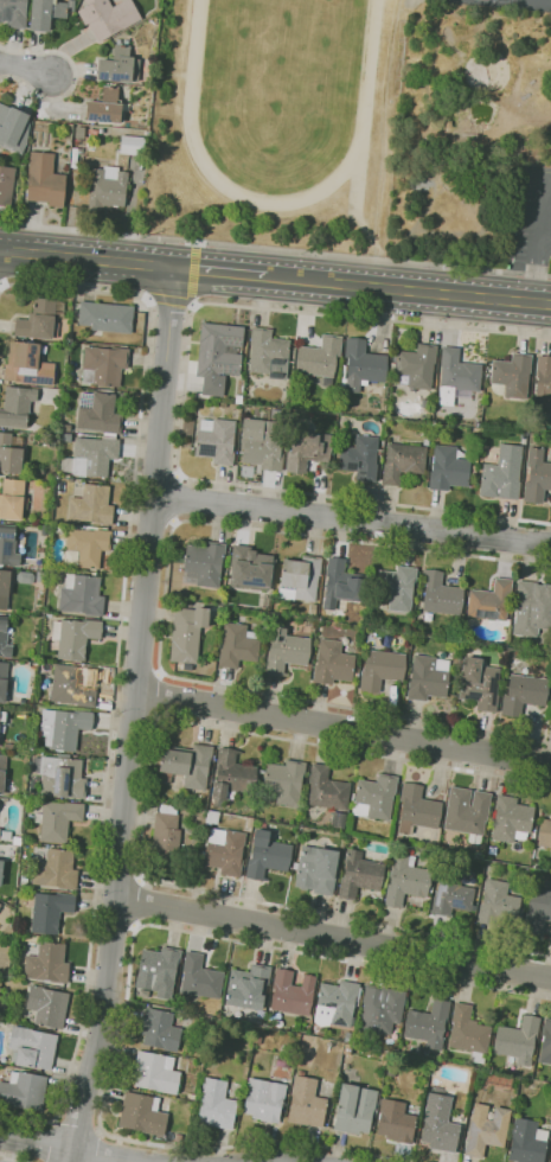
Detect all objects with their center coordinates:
park: (504, 0)
building: (13, 13)
building: (47, 13)
building: (108, 17)
building: (118, 65)
road: (26, 66)
road: (75, 78)
building: (107, 107)
track: (364, 109)
building: (13, 128)
building: (69, 133)
building: (132, 145)
building: (44, 180)
building: (6, 185)
building: (107, 187)
road: (544, 209)
parking lot: (531, 216)
road: (275, 249)
road: (85, 258)
road: (534, 267)
road: (212, 270)
road: (194, 274)
road: (1, 285)
road: (403, 289)
road: (172, 302)
building: (105, 317)
building: (37, 321)
building: (269, 353)
building: (218, 356)
building: (319, 358)
building: (26, 364)
building: (103, 365)
building: (363, 365)
building: (416, 365)
building: (511, 376)
building: (456, 377)
building: (543, 383)
road: (184, 397)
building: (238, 398)
building: (17, 407)
building: (98, 414)
building: (423, 419)
building: (66, 436)
building: (216, 441)
building: (262, 442)
building: (307, 449)
building: (9, 453)
building: (91, 456)
building: (360, 458)
building: (402, 462)
building: (448, 468)
building: (501, 474)
building: (537, 477)
road: (178, 498)
building: (12, 499)
building: (91, 505)
road: (352, 522)
building: (8, 547)
building: (85, 547)
building: (203, 564)
building: (250, 568)
building: (299, 579)
building: (341, 585)
building: (396, 587)
building: (4, 588)
building: (440, 594)
building: (81, 595)
building: (489, 600)
road: (164, 606)
building: (531, 608)
building: (313, 609)
building: (187, 633)
building: (73, 637)
building: (4, 640)
building: (237, 645)
building: (284, 651)
road: (117, 662)
building: (332, 663)
building: (380, 669)
building: (428, 677)
building: (2, 681)
building: (478, 684)
building: (71, 685)
building: (523, 694)
road: (160, 696)
building: (550, 703)
road: (132, 715)
road: (342, 724)
building: (63, 728)
building: (187, 768)
building: (1, 771)
building: (60, 777)
building: (230, 777)
building: (284, 781)
building: (326, 790)
building: (30, 793)
building: (352, 797)
building: (373, 797)
road: (145, 809)
building: (416, 810)
building: (467, 812)
building: (211, 817)
building: (338, 819)
building: (511, 819)
building: (57, 821)
building: (249, 823)
building: (544, 834)
building: (5, 835)
building: (165, 837)
building: (15, 841)
building: (224, 850)
building: (265, 855)
building: (1, 869)
building: (56, 870)
building: (316, 870)
building: (358, 875)
building: (404, 880)
building: (429, 889)
building: (450, 894)
road: (141, 902)
building: (496, 902)
building: (0, 906)
building: (473, 908)
building: (50, 912)
building: (537, 912)
road: (334, 938)
building: (47, 963)
building: (158, 970)
road: (128, 973)
building: (199, 977)
building: (248, 987)
building: (290, 992)
building: (335, 1004)
building: (46, 1007)
building: (380, 1009)
building: (427, 1024)
building: (159, 1030)
building: (468, 1034)
building: (347, 1036)
building: (518, 1040)
building: (545, 1042)
building: (32, 1047)
building: (282, 1061)
building: (433, 1064)
building: (155, 1072)
building: (24, 1091)
building: (190, 1096)
building: (263, 1099)
building: (305, 1103)
building: (216, 1104)
building: (354, 1109)
building: (141, 1115)
building: (395, 1122)
road: (77, 1124)
building: (438, 1124)
building: (485, 1130)
building: (178, 1137)
road: (49, 1141)
building: (526, 1142)
road: (97, 1145)
road: (70, 1150)
road: (9, 1160)

